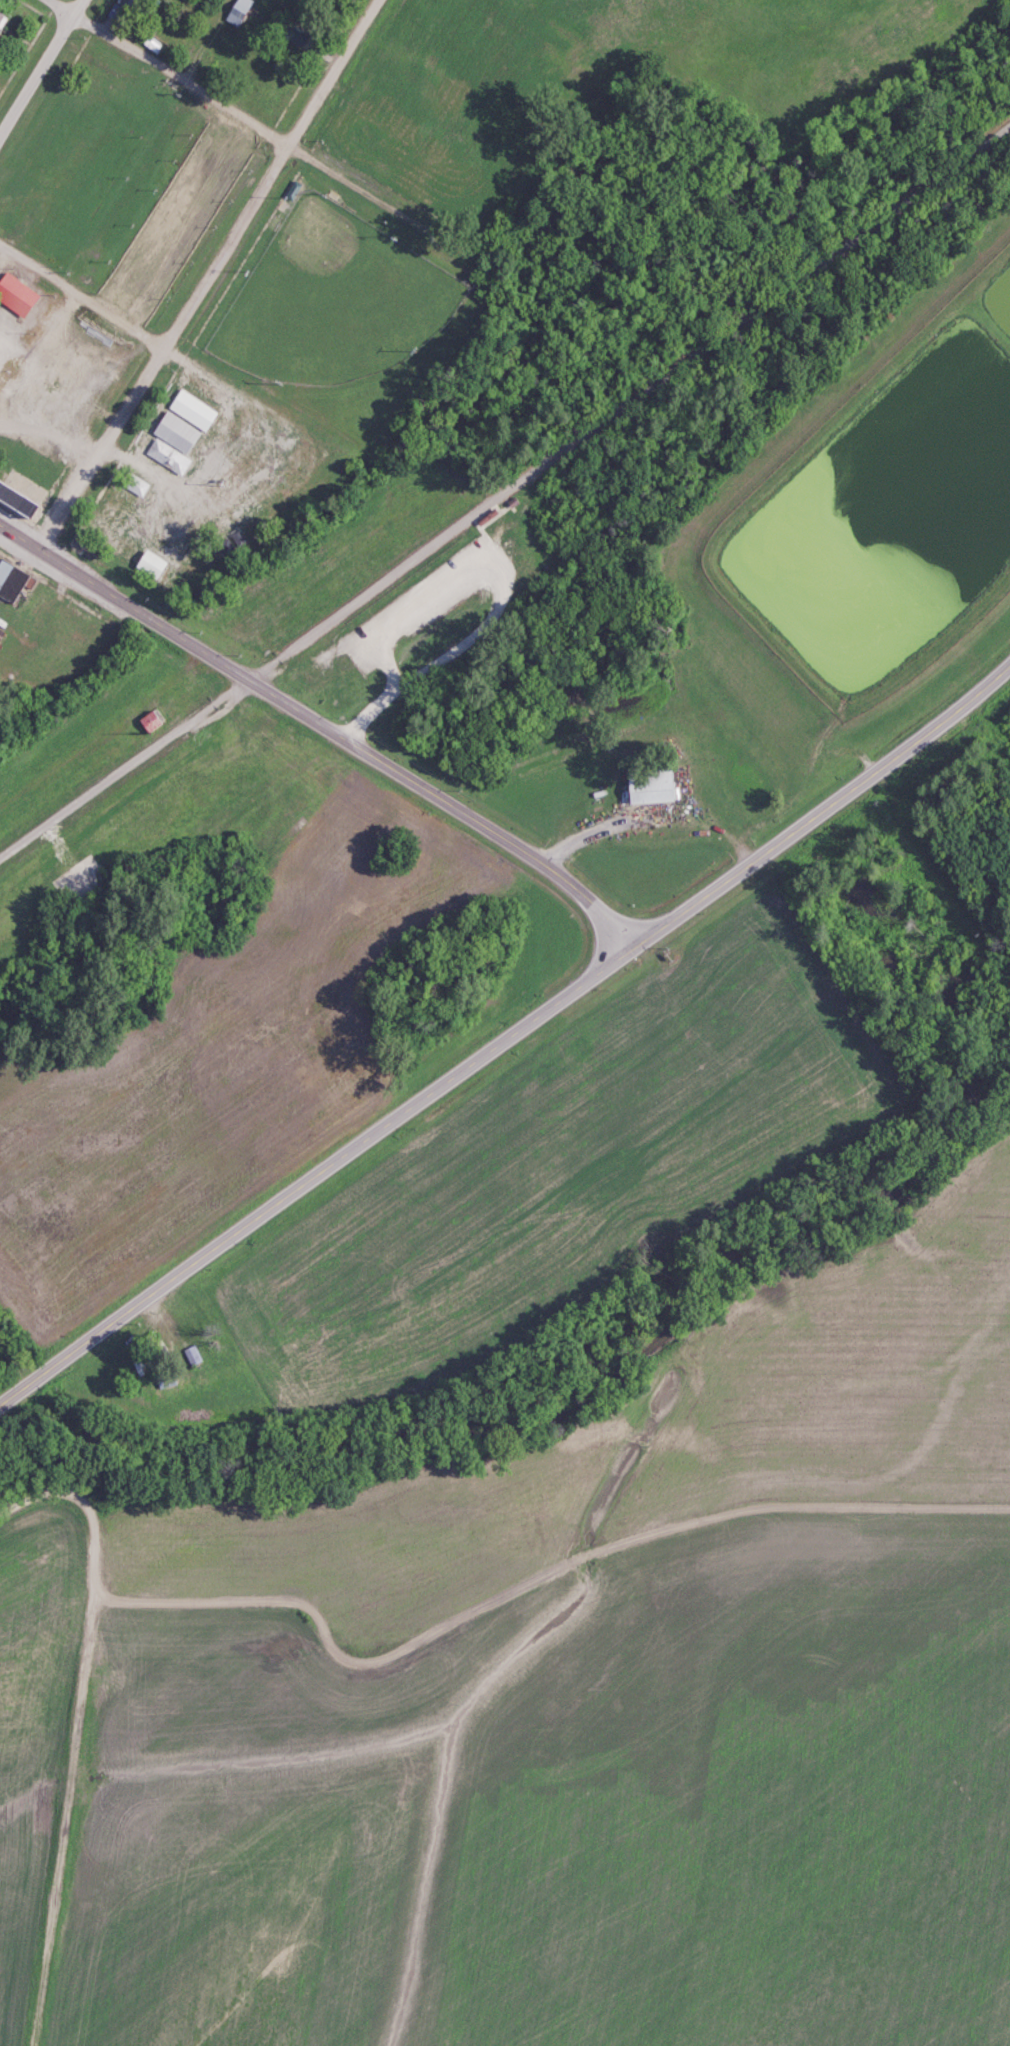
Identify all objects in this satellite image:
building: (235, 12)
building: (0, 17)
road: (39, 63)
road: (166, 74)
road: (348, 184)
road: (207, 276)
road: (81, 298)
road: (238, 391)
road: (628, 403)
building: (176, 432)
building: (133, 486)
building: (17, 496)
road: (481, 541)
building: (229, 544)
building: (147, 565)
building: (8, 581)
road: (497, 595)
parking lot: (417, 605)
building: (146, 722)
road: (328, 730)
road: (124, 769)
building: (646, 785)
road: (510, 1045)
building: (190, 1356)
road: (14, 1366)
building: (163, 1381)
road: (93, 1518)
road: (70, 1838)

